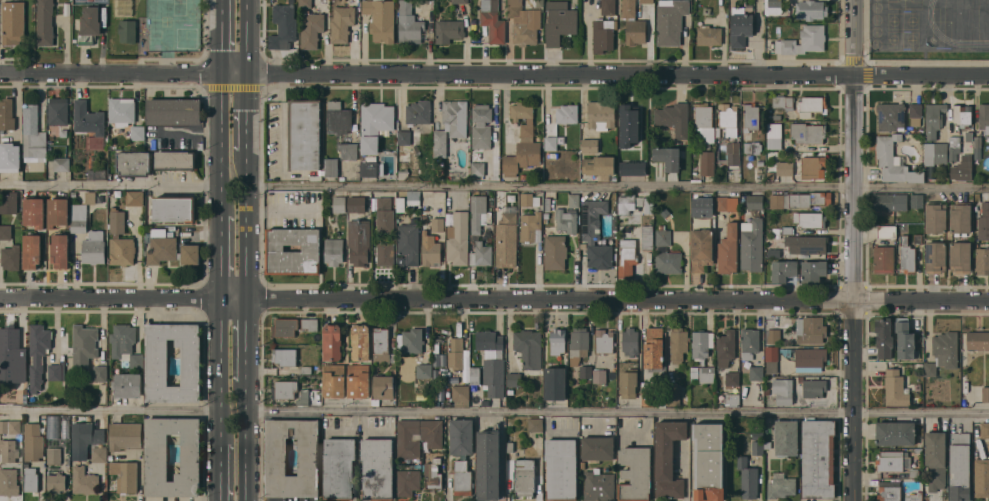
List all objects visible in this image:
building: (459, 1)
building: (647, 1)
building: (305, 3)
building: (749, 6)
building: (773, 6)
building: (122, 7)
building: (515, 8)
building: (811, 9)
building: (381, 18)
building: (783, 19)
building: (493, 20)
building: (12, 21)
building: (559, 21)
building: (671, 21)
building: (44, 22)
building: (342, 23)
building: (633, 23)
building: (410, 24)
building: (89, 25)
building: (283, 26)
building: (604, 27)
building: (740, 27)
building: (527, 28)
building: (311, 29)
building: (127, 30)
building: (449, 30)
road: (219, 33)
road: (246, 34)
building: (709, 34)
road: (756, 37)
building: (803, 40)
road: (494, 71)
road: (284, 83)
building: (784, 101)
building: (812, 105)
building: (58, 111)
building: (122, 111)
building: (174, 111)
building: (418, 112)
building: (567, 113)
building: (915, 113)
building: (6, 114)
building: (601, 114)
road: (245, 115)
building: (703, 115)
building: (962, 115)
building: (751, 116)
building: (777, 116)
building: (891, 116)
building: (984, 116)
building: (674, 118)
building: (728, 118)
building: (934, 118)
building: (90, 123)
building: (375, 124)
building: (451, 125)
building: (628, 125)
building: (482, 126)
building: (341, 128)
building: (804, 131)
building: (63, 132)
building: (137, 132)
building: (304, 134)
building: (707, 134)
building: (32, 135)
building: (969, 135)
road: (283, 136)
road: (219, 137)
building: (774, 140)
building: (409, 141)
building: (523, 142)
building: (551, 142)
building: (590, 145)
building: (752, 147)
building: (954, 147)
building: (977, 147)
building: (935, 152)
building: (732, 154)
building: (111, 155)
building: (9, 156)
building: (363, 157)
building: (404, 157)
building: (668, 157)
building: (175, 160)
building: (894, 160)
building: (415, 161)
building: (760, 162)
building: (707, 163)
building: (62, 164)
building: (134, 164)
building: (599, 165)
building: (331, 167)
building: (632, 167)
building: (785, 167)
building: (813, 167)
building: (371, 168)
building: (478, 168)
building: (963, 168)
building: (403, 173)
building: (427, 175)
building: (317, 176)
building: (524, 176)
road: (283, 181)
road: (109, 186)
road: (617, 187)
building: (73, 193)
building: (90, 197)
building: (412, 197)
building: (133, 199)
building: (529, 199)
building: (799, 199)
building: (916, 200)
building: (574, 201)
building: (755, 201)
building: (890, 201)
building: (9, 203)
building: (547, 203)
building: (626, 203)
building: (645, 203)
building: (726, 203)
building: (339, 204)
building: (356, 204)
building: (400, 204)
building: (701, 207)
building: (174, 208)
building: (985, 208)
building: (34, 211)
building: (58, 211)
building: (919, 212)
building: (385, 215)
building: (935, 216)
building: (960, 217)
building: (79, 218)
building: (810, 219)
building: (424, 220)
building: (566, 220)
building: (438, 224)
building: (919, 224)
building: (531, 226)
building: (662, 226)
building: (983, 227)
road: (245, 228)
building: (780, 230)
building: (5, 231)
building: (479, 231)
building: (886, 231)
building: (596, 234)
building: (647, 237)
building: (458, 238)
building: (489, 239)
building: (506, 239)
building: (918, 239)
building: (120, 240)
building: (359, 241)
building: (409, 243)
building: (807, 243)
building: (752, 245)
building: (94, 247)
building: (169, 248)
building: (702, 249)
building: (728, 249)
building: (32, 250)
building: (60, 250)
road: (854, 250)
building: (293, 251)
building: (334, 251)
building: (555, 251)
road: (220, 252)
building: (773, 252)
building: (385, 253)
building: (431, 253)
building: (666, 254)
building: (907, 255)
building: (935, 256)
building: (960, 256)
building: (10, 257)
building: (627, 257)
building: (885, 259)
building: (982, 260)
building: (784, 270)
building: (813, 270)
road: (494, 297)
building: (310, 323)
building: (285, 327)
building: (810, 329)
building: (773, 335)
building: (884, 337)
building: (905, 339)
building: (604, 340)
building: (978, 340)
building: (332, 341)
building: (410, 341)
building: (557, 341)
building: (630, 341)
building: (360, 342)
building: (749, 342)
road: (244, 343)
building: (125, 344)
building: (578, 344)
building: (678, 344)
building: (702, 344)
building: (84, 345)
building: (382, 346)
building: (529, 347)
building: (726, 347)
building: (654, 348)
building: (11, 350)
building: (943, 352)
building: (38, 353)
building: (456, 353)
building: (284, 356)
building: (771, 358)
building: (492, 361)
building: (810, 361)
building: (157, 365)
road: (220, 365)
building: (305, 369)
building: (424, 370)
building: (585, 371)
building: (55, 372)
building: (756, 372)
building: (100, 373)
building: (694, 374)
building: (706, 374)
building: (475, 375)
building: (599, 376)
building: (732, 378)
building: (513, 379)
building: (334, 381)
building: (358, 381)
building: (629, 382)
building: (555, 383)
building: (128, 384)
building: (813, 386)
building: (383, 387)
building: (895, 388)
building: (285, 389)
building: (510, 391)
building: (767, 391)
building: (783, 391)
building: (985, 393)
building: (460, 395)
building: (672, 395)
building: (304, 396)
building: (732, 398)
building: (648, 399)
building: (375, 401)
building: (485, 402)
building: (661, 404)
road: (110, 412)
road: (616, 412)
building: (535, 424)
building: (10, 426)
building: (52, 426)
building: (984, 429)
building: (895, 433)
building: (757, 434)
building: (125, 435)
building: (417, 436)
building: (786, 437)
building: (85, 438)
building: (33, 442)
building: (767, 444)
road: (244, 445)
building: (510, 447)
building: (598, 447)
building: (757, 447)
building: (8, 450)
building: (918, 450)
building: (157, 453)
building: (461, 453)
building: (99, 454)
building: (54, 455)
building: (276, 456)
building: (668, 457)
building: (818, 458)
building: (935, 459)
building: (709, 461)
building: (893, 461)
building: (26, 463)
building: (489, 464)
building: (959, 466)
road: (220, 467)
building: (339, 468)
building: (377, 468)
building: (562, 469)
building: (434, 473)
building: (635, 473)
road: (685, 473)
building: (914, 473)
building: (124, 476)
building: (524, 476)
building: (981, 477)
building: (748, 478)
building: (30, 479)
building: (84, 480)
building: (9, 481)
building: (408, 481)
building: (56, 482)
building: (598, 484)
building: (781, 485)
building: (889, 491)
building: (914, 496)

